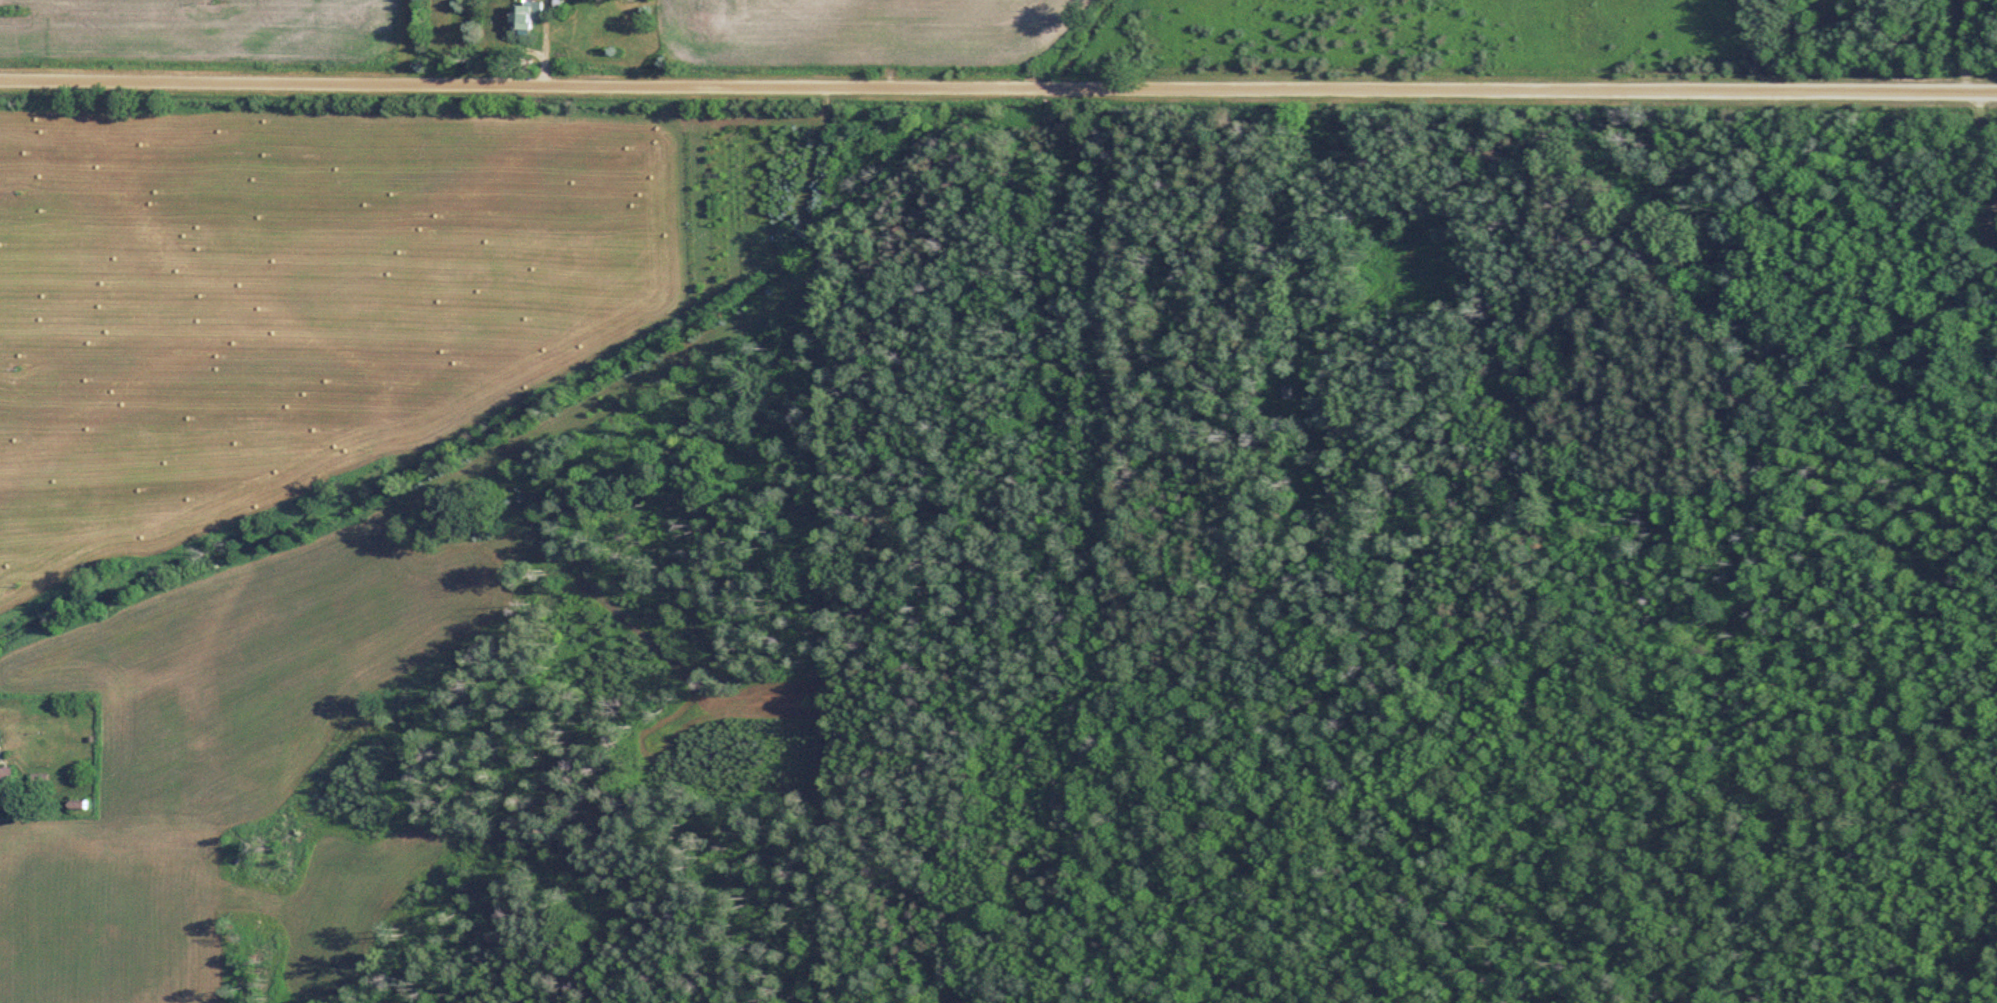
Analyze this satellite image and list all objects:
building: (533, 14)
road: (998, 93)
building: (1, 742)
building: (10, 781)

